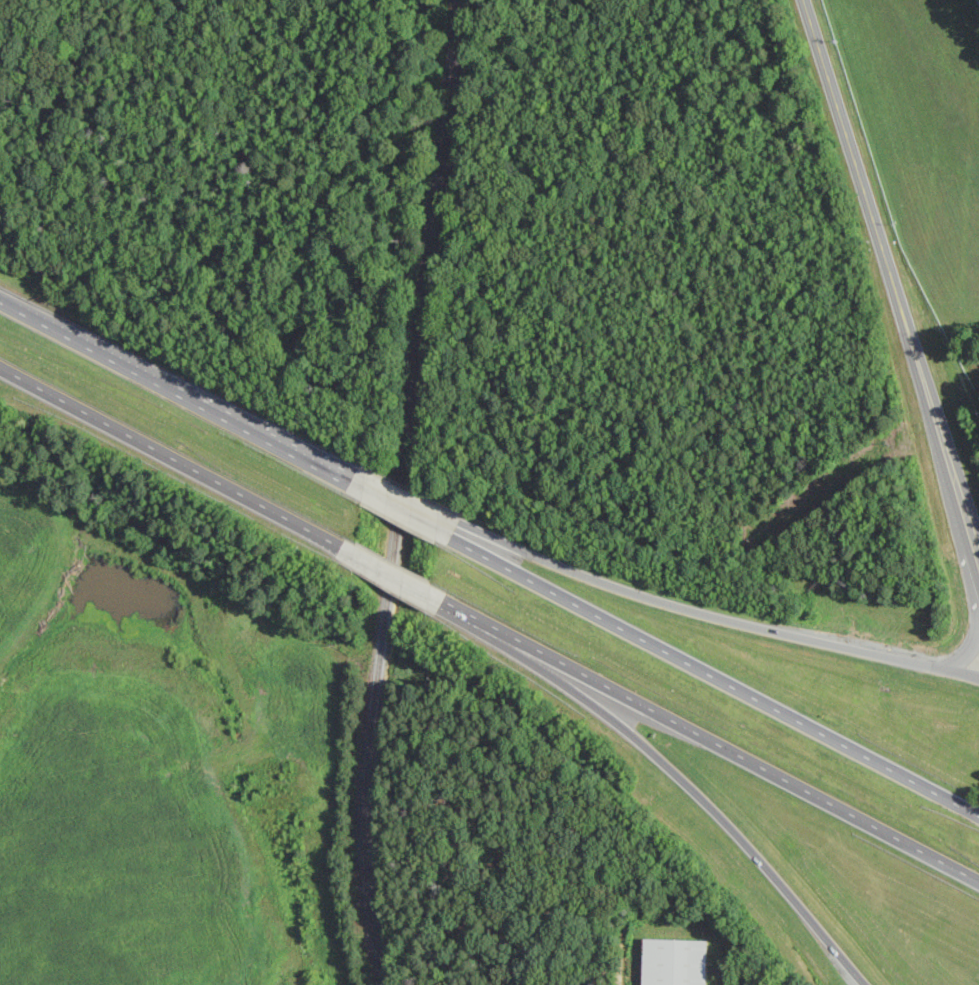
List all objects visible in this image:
road: (896, 266)
road: (176, 388)
road: (318, 458)
road: (176, 461)
railway: (408, 492)
road: (417, 502)
road: (410, 513)
road: (403, 581)
road: (717, 614)
road: (722, 680)
road: (718, 741)
road: (704, 789)
building: (682, 962)

